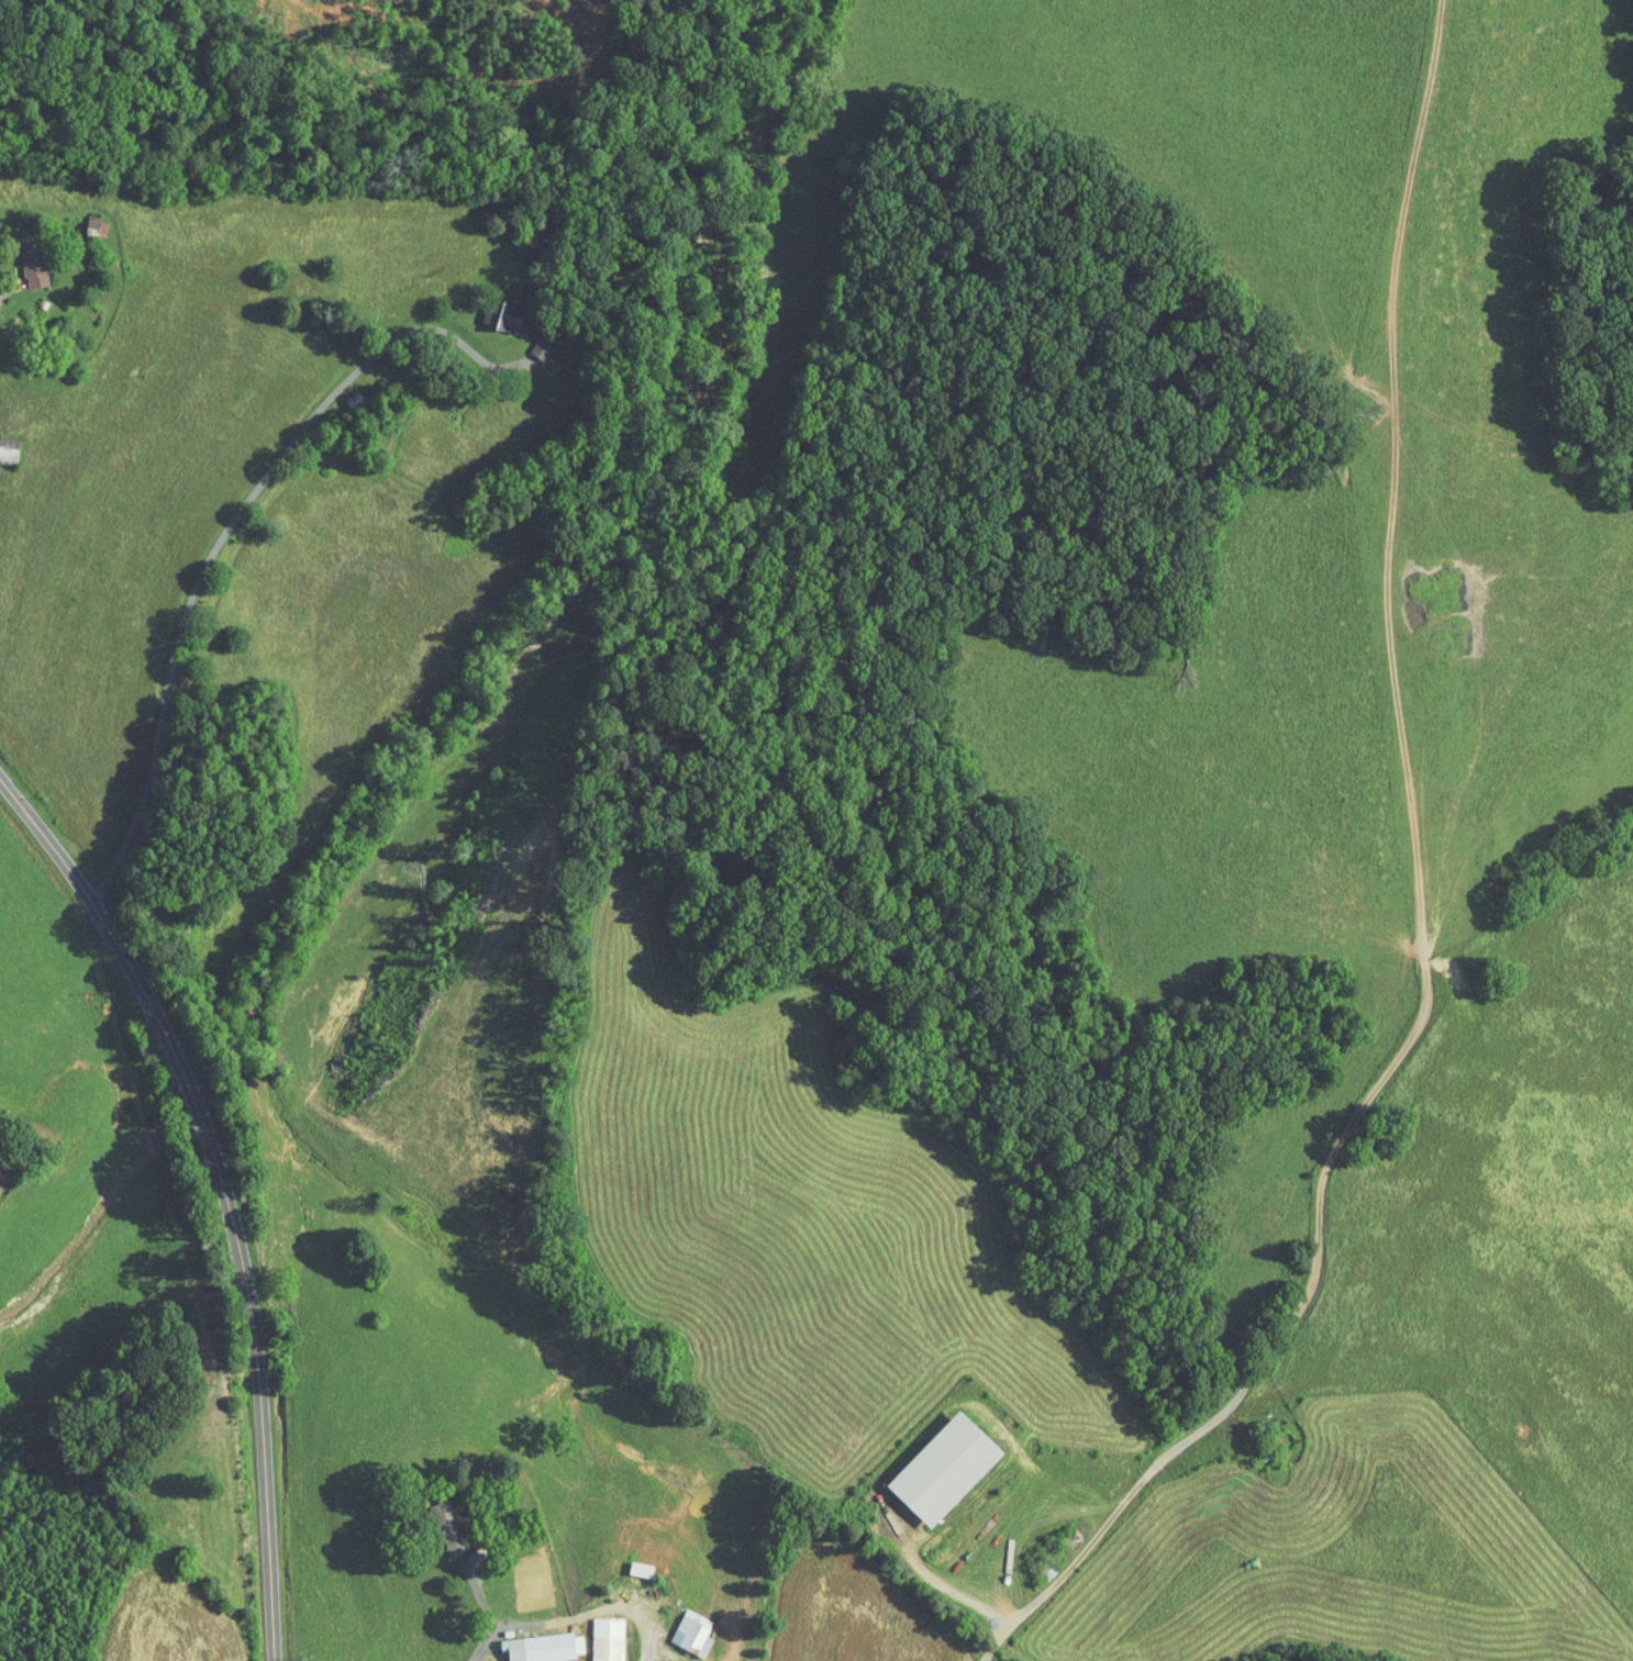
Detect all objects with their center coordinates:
building: (27, 265)
building: (482, 313)
building: (500, 319)
road: (3, 322)
road: (222, 533)
road: (224, 1194)
building: (934, 1468)
road: (1114, 1512)
building: (444, 1525)
road: (478, 1604)
building: (689, 1634)
building: (604, 1638)
building: (541, 1647)

